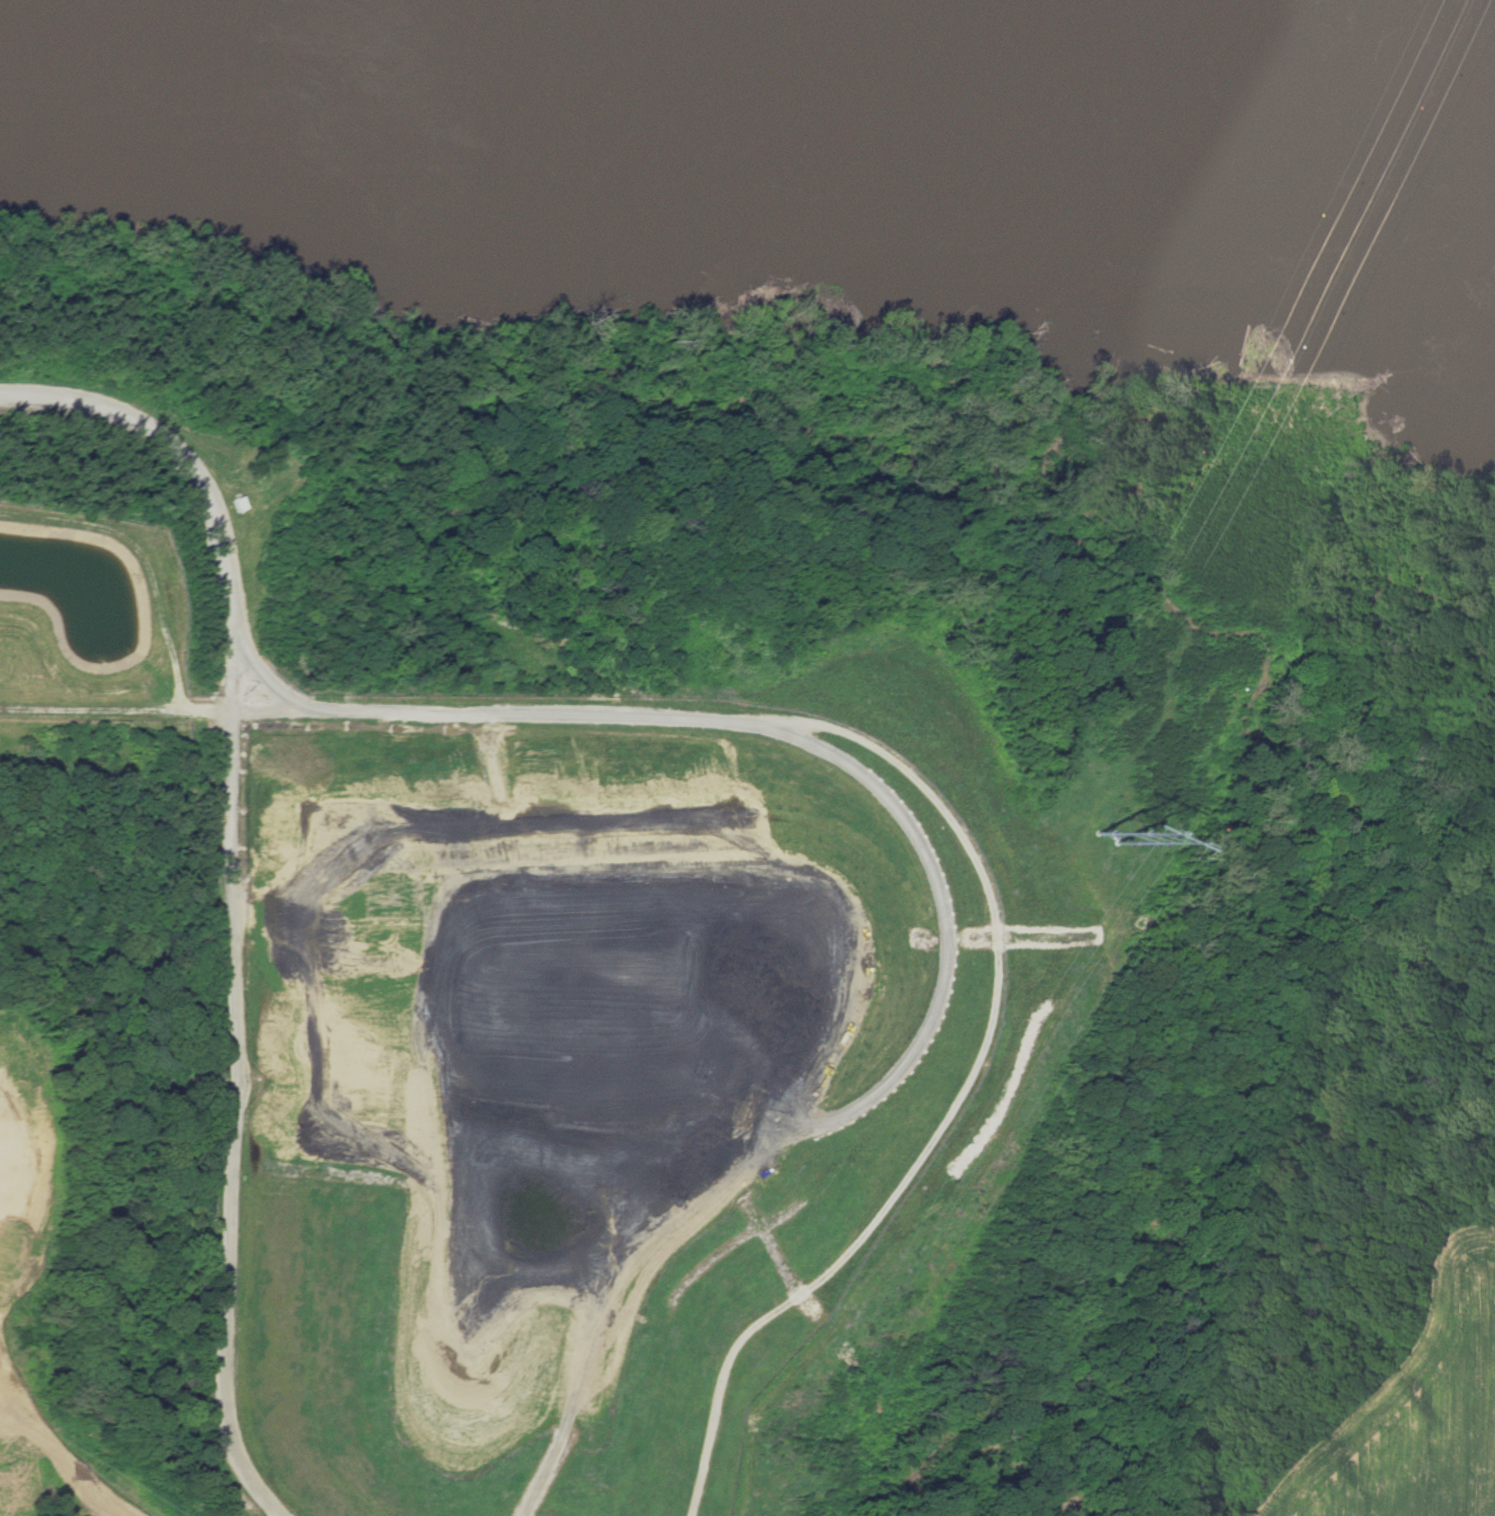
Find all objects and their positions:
river: (1263, 22)
road: (139, 557)
road: (125, 705)
power tower: (1100, 836)
road: (965, 853)
road: (238, 894)
crop: (23, 1276)
crop: (1410, 1399)
crop: (59, 1508)

